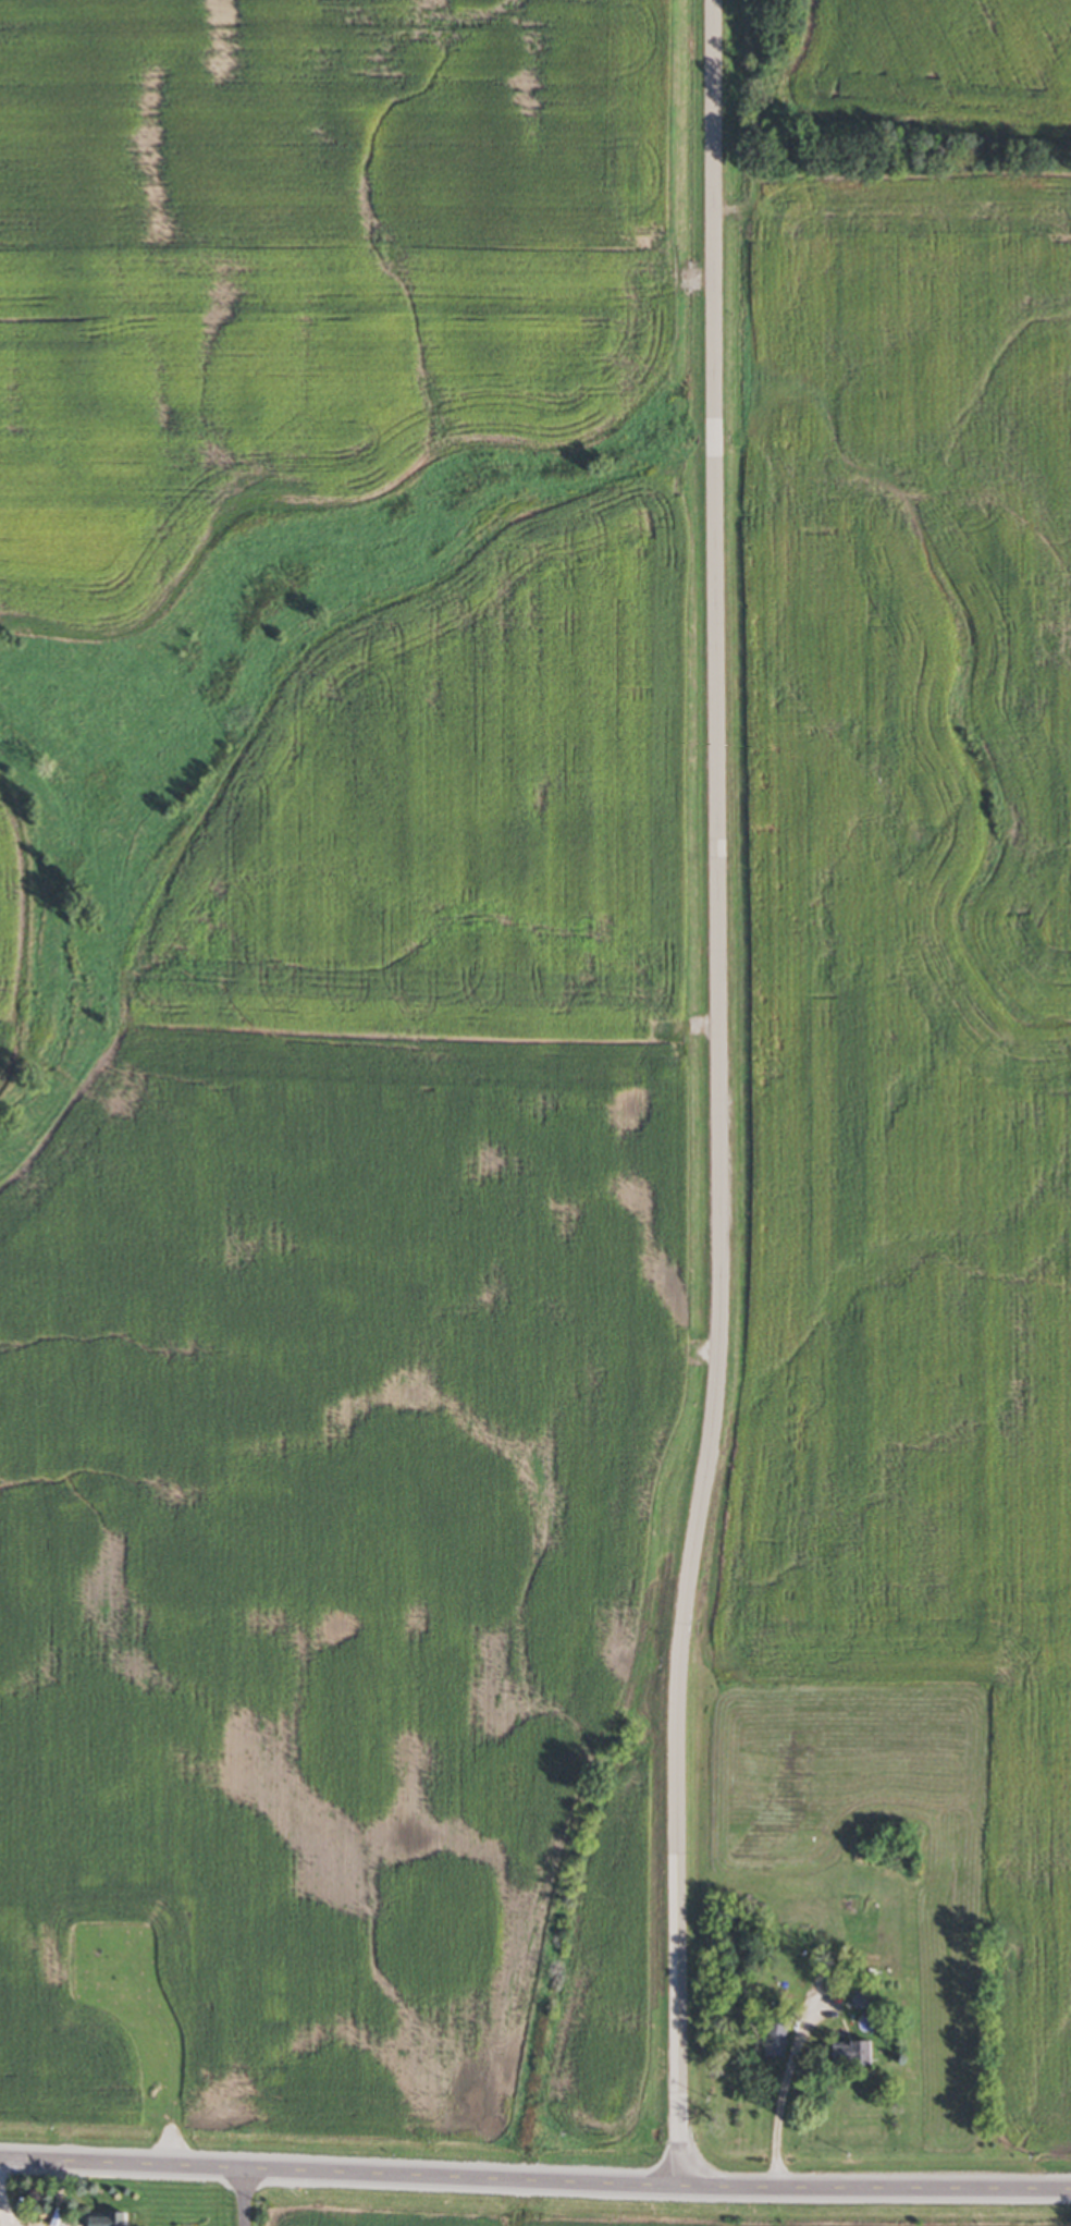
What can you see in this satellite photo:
road: (722, 1092)
building: (865, 1996)
building: (853, 2053)
road: (785, 2087)
road: (534, 2177)
road: (253, 2197)
building: (110, 2218)

